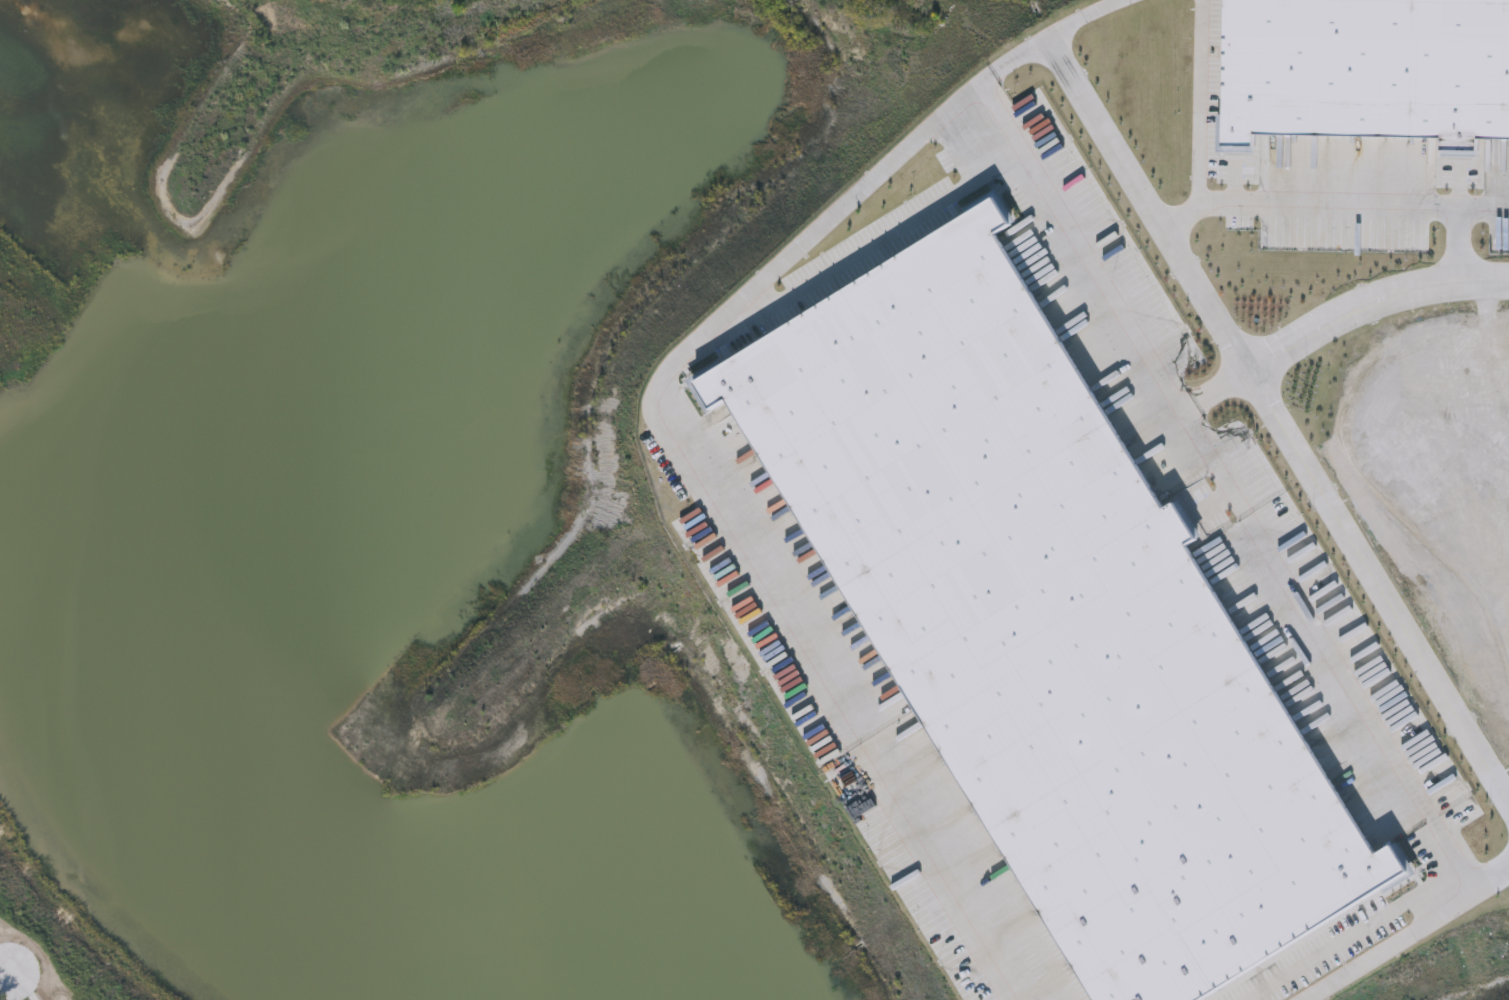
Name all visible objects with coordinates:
road: (1103, 18)
building: (1365, 69)
road: (997, 72)
road: (1355, 206)
road: (1492, 208)
road: (1372, 304)
road: (678, 369)
road: (1216, 395)
road: (1280, 420)
building: (1053, 614)
road: (1373, 731)
road: (1474, 892)
road: (3, 995)

